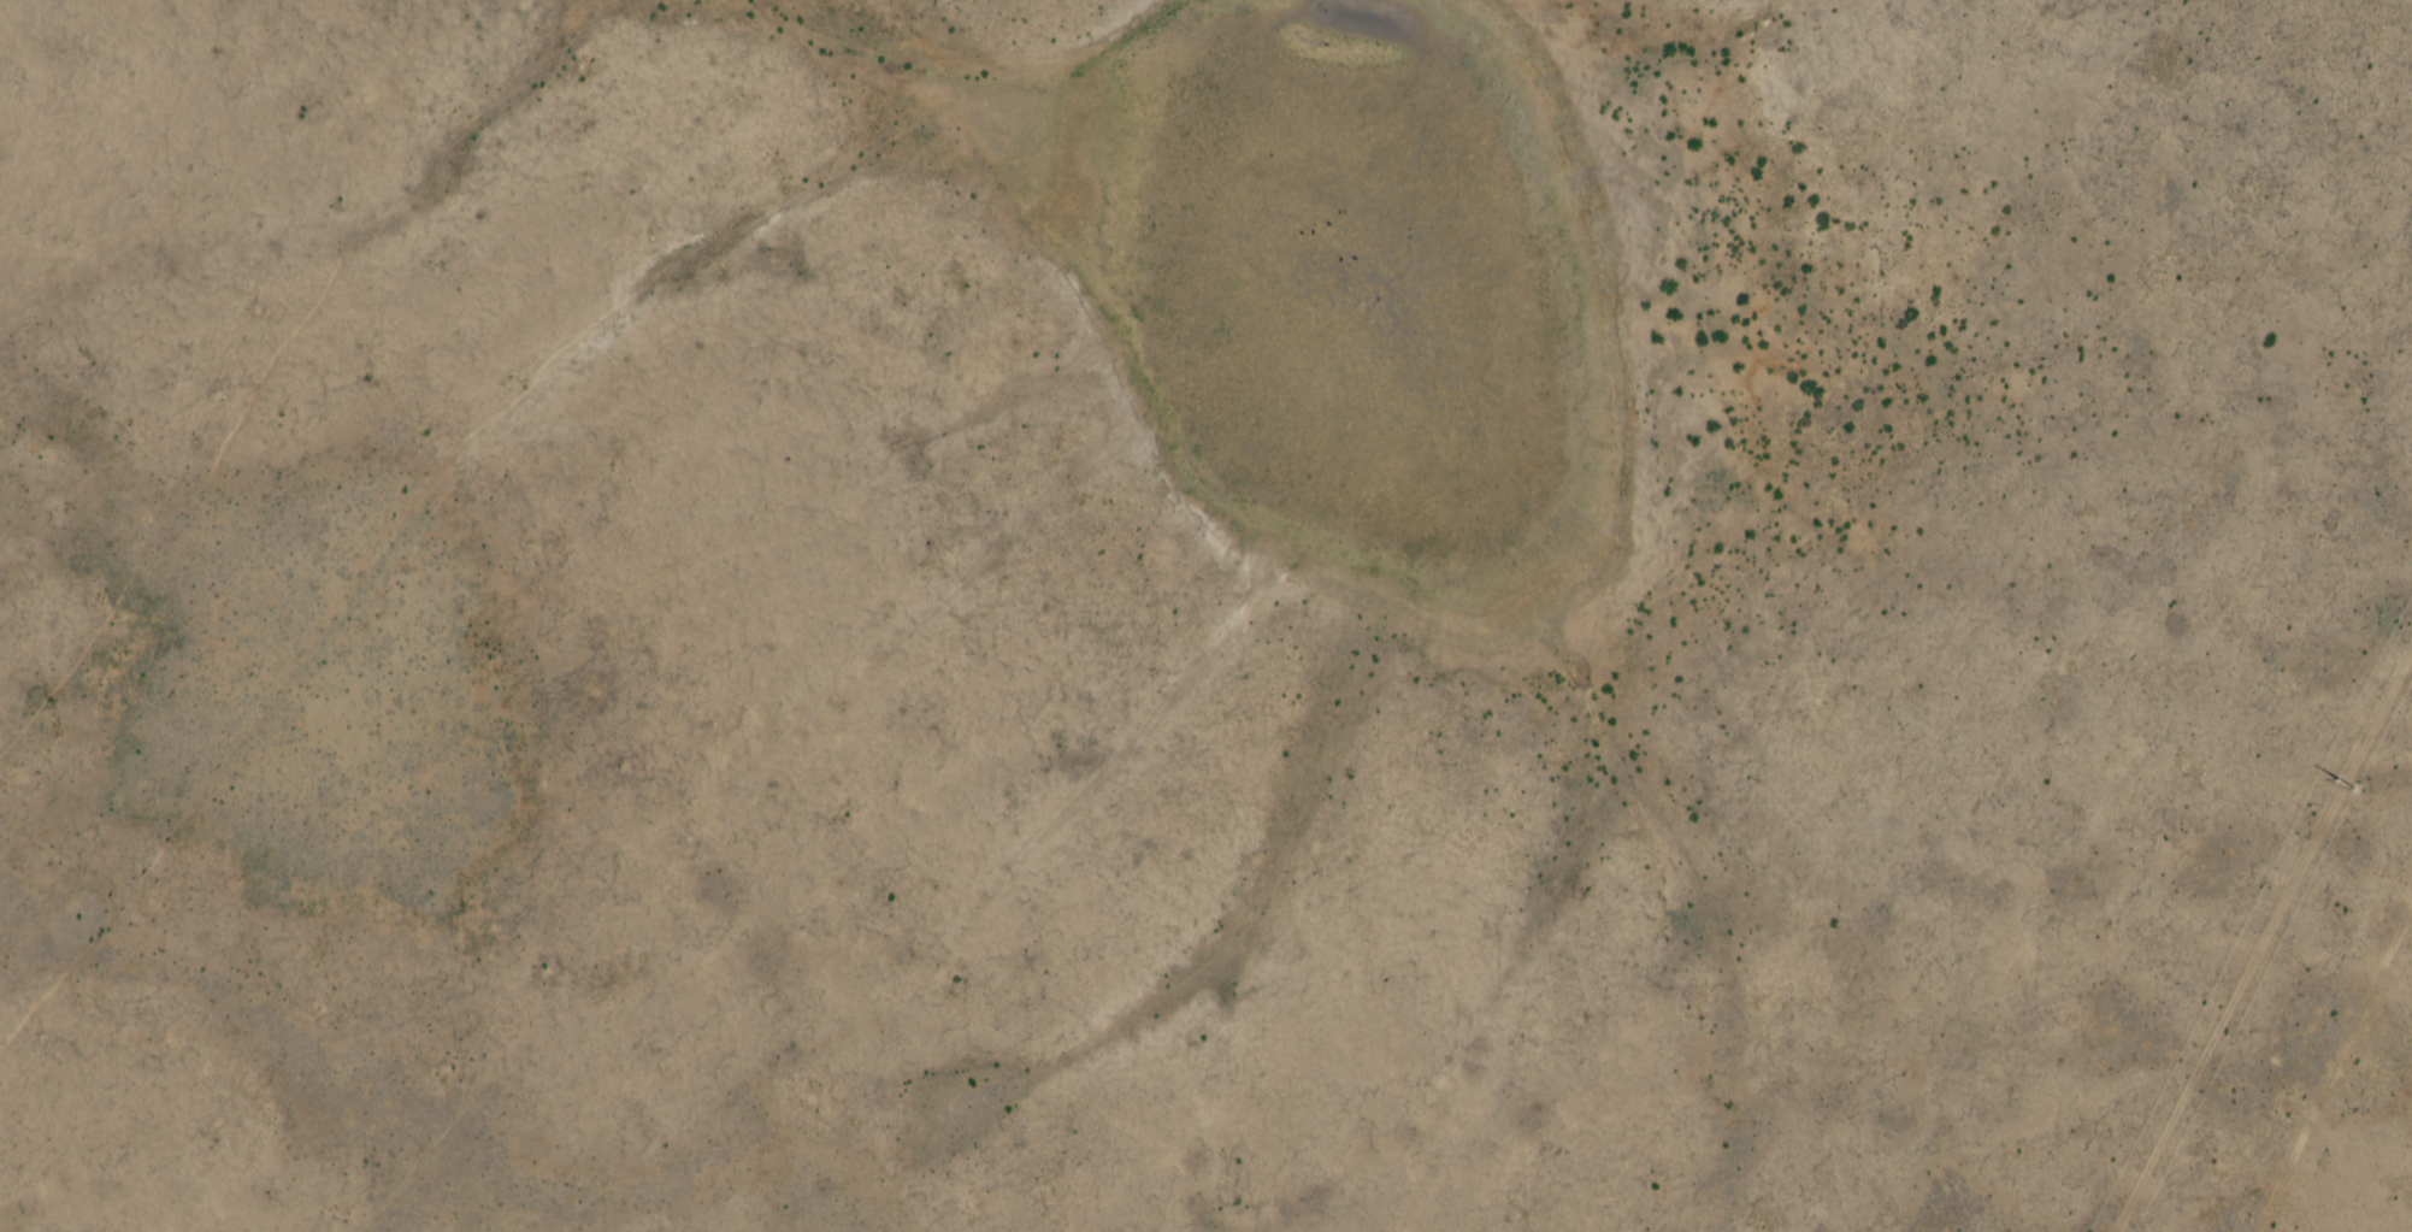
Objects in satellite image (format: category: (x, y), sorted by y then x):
power tower: (2348, 782)

